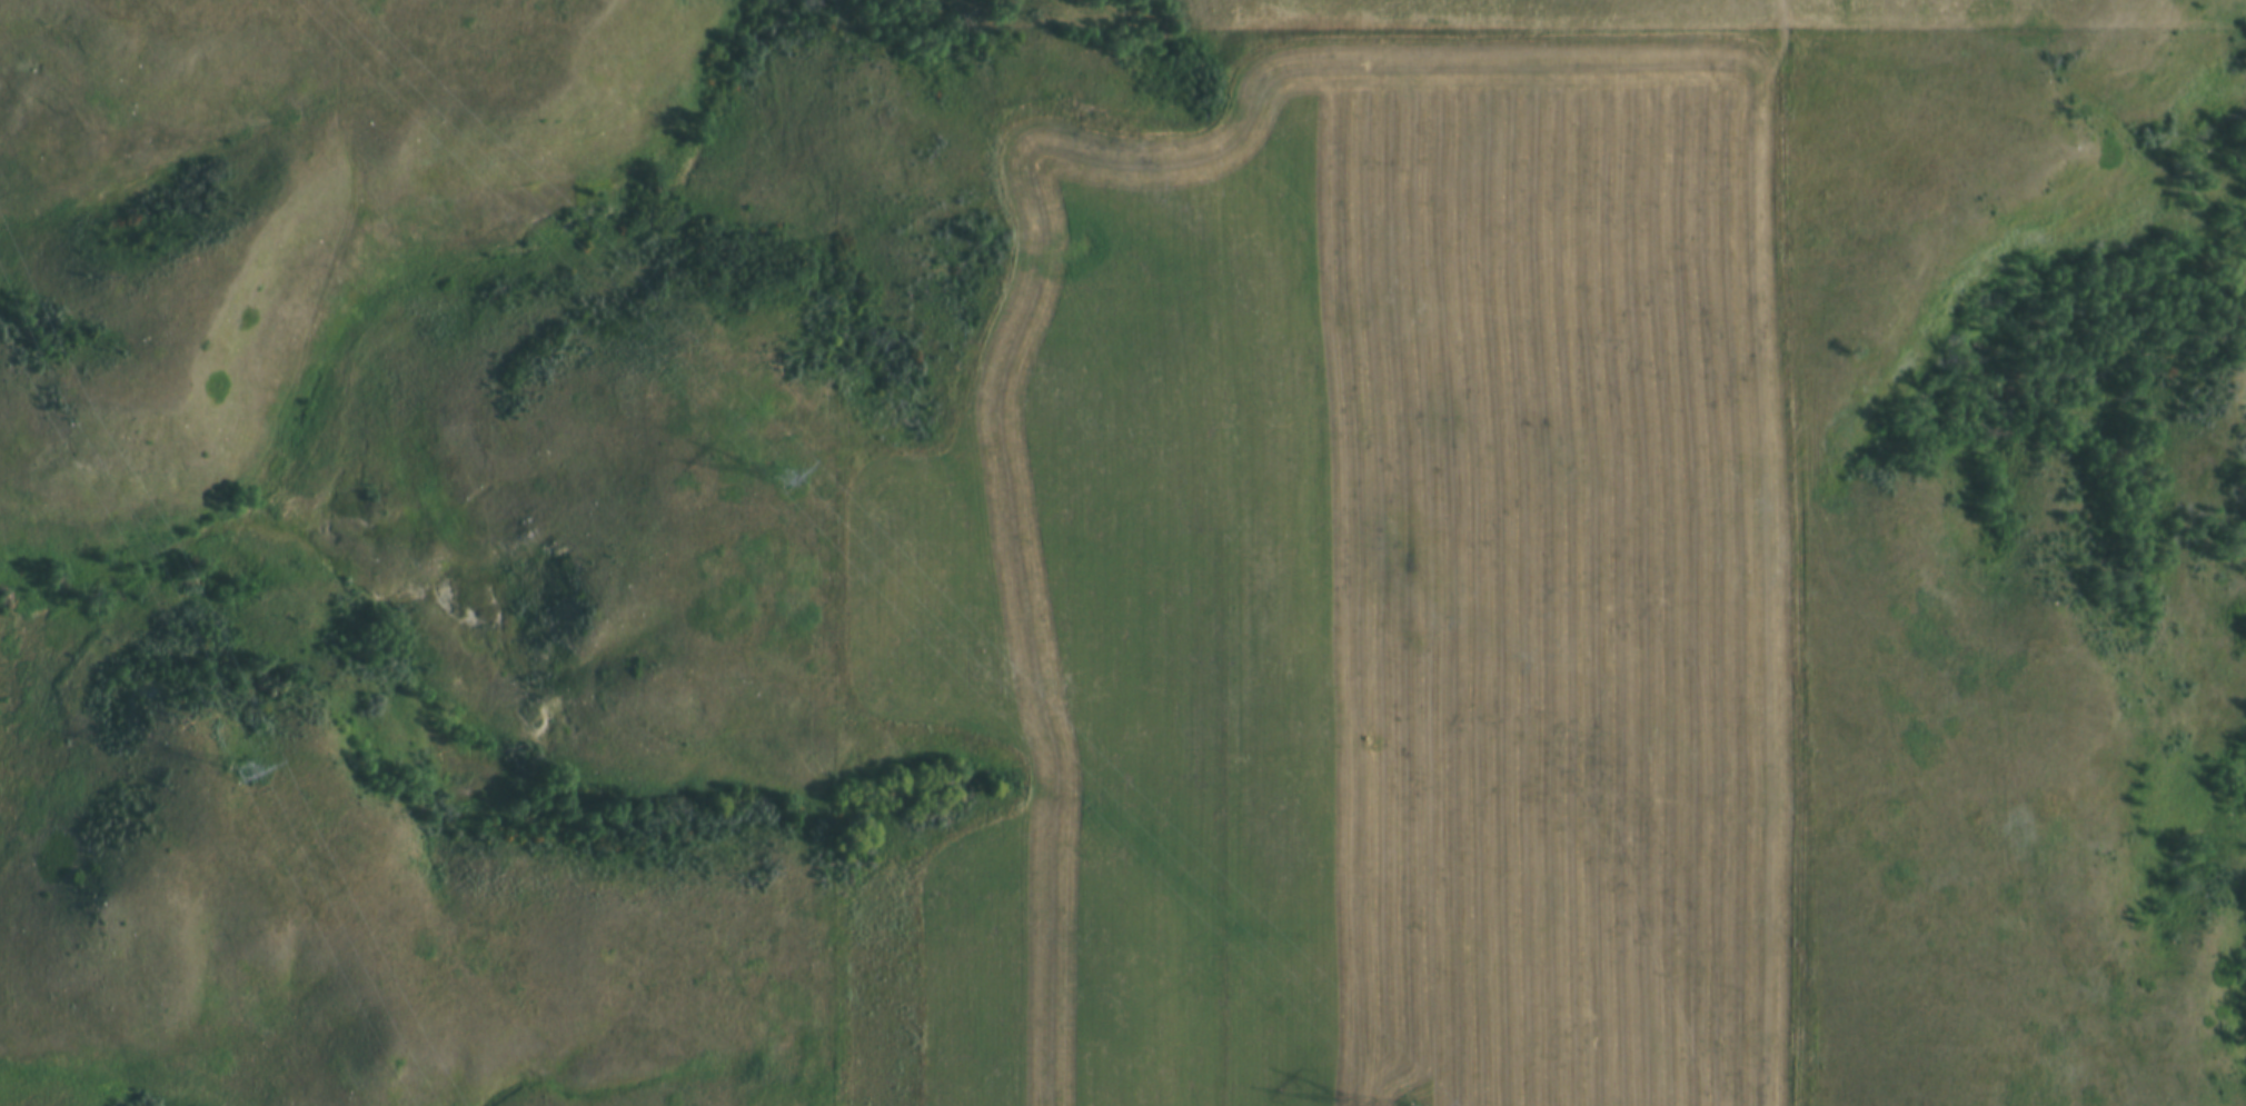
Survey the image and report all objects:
power tower: (771, 487)
power tower: (223, 785)

